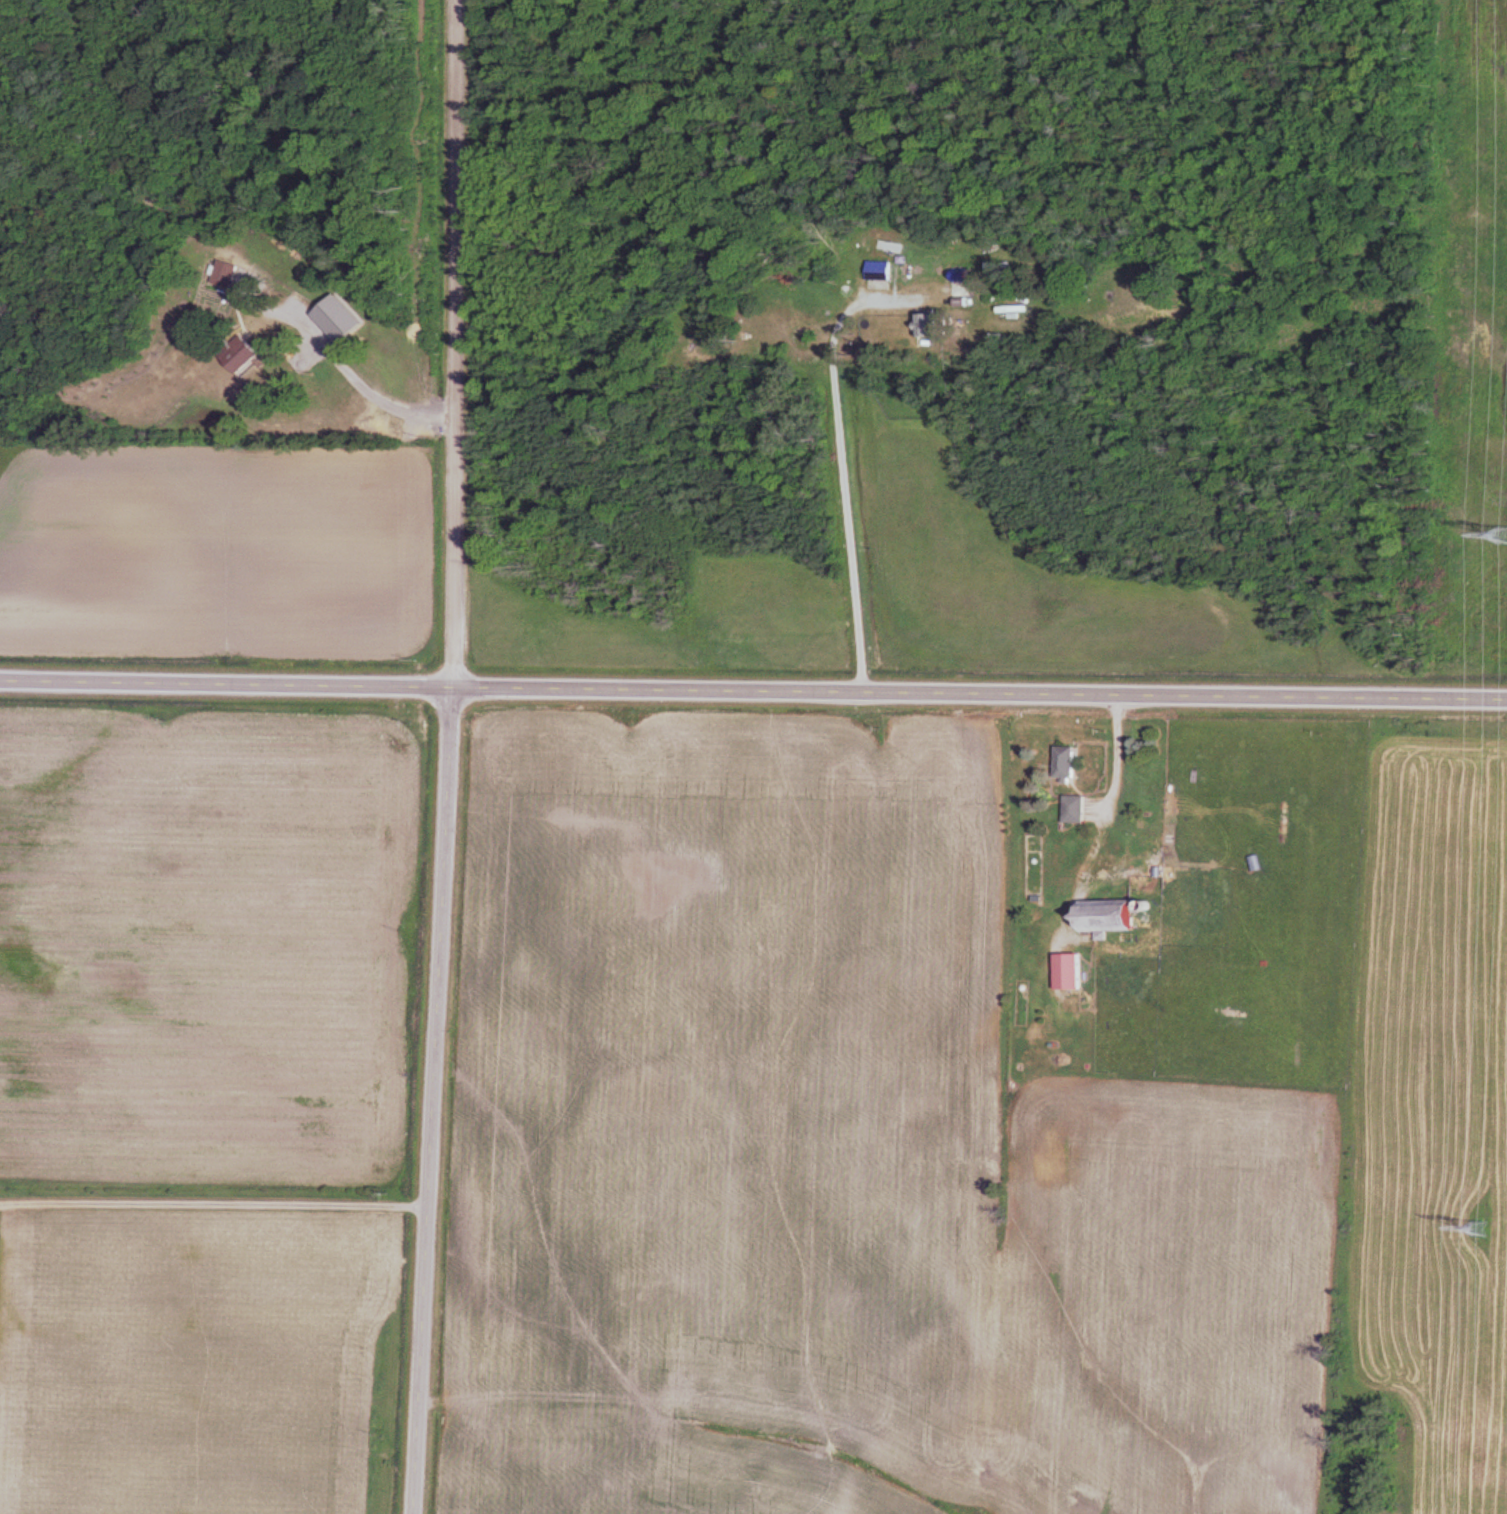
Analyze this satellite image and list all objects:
building: (928, 326)
building: (245, 355)
road: (354, 387)
road: (848, 508)
power tower: (1501, 536)
road: (753, 689)
road: (449, 757)
building: (1070, 763)
building: (1075, 809)
building: (1035, 865)
building: (1113, 916)
building: (1072, 972)
power tower: (1481, 1228)

